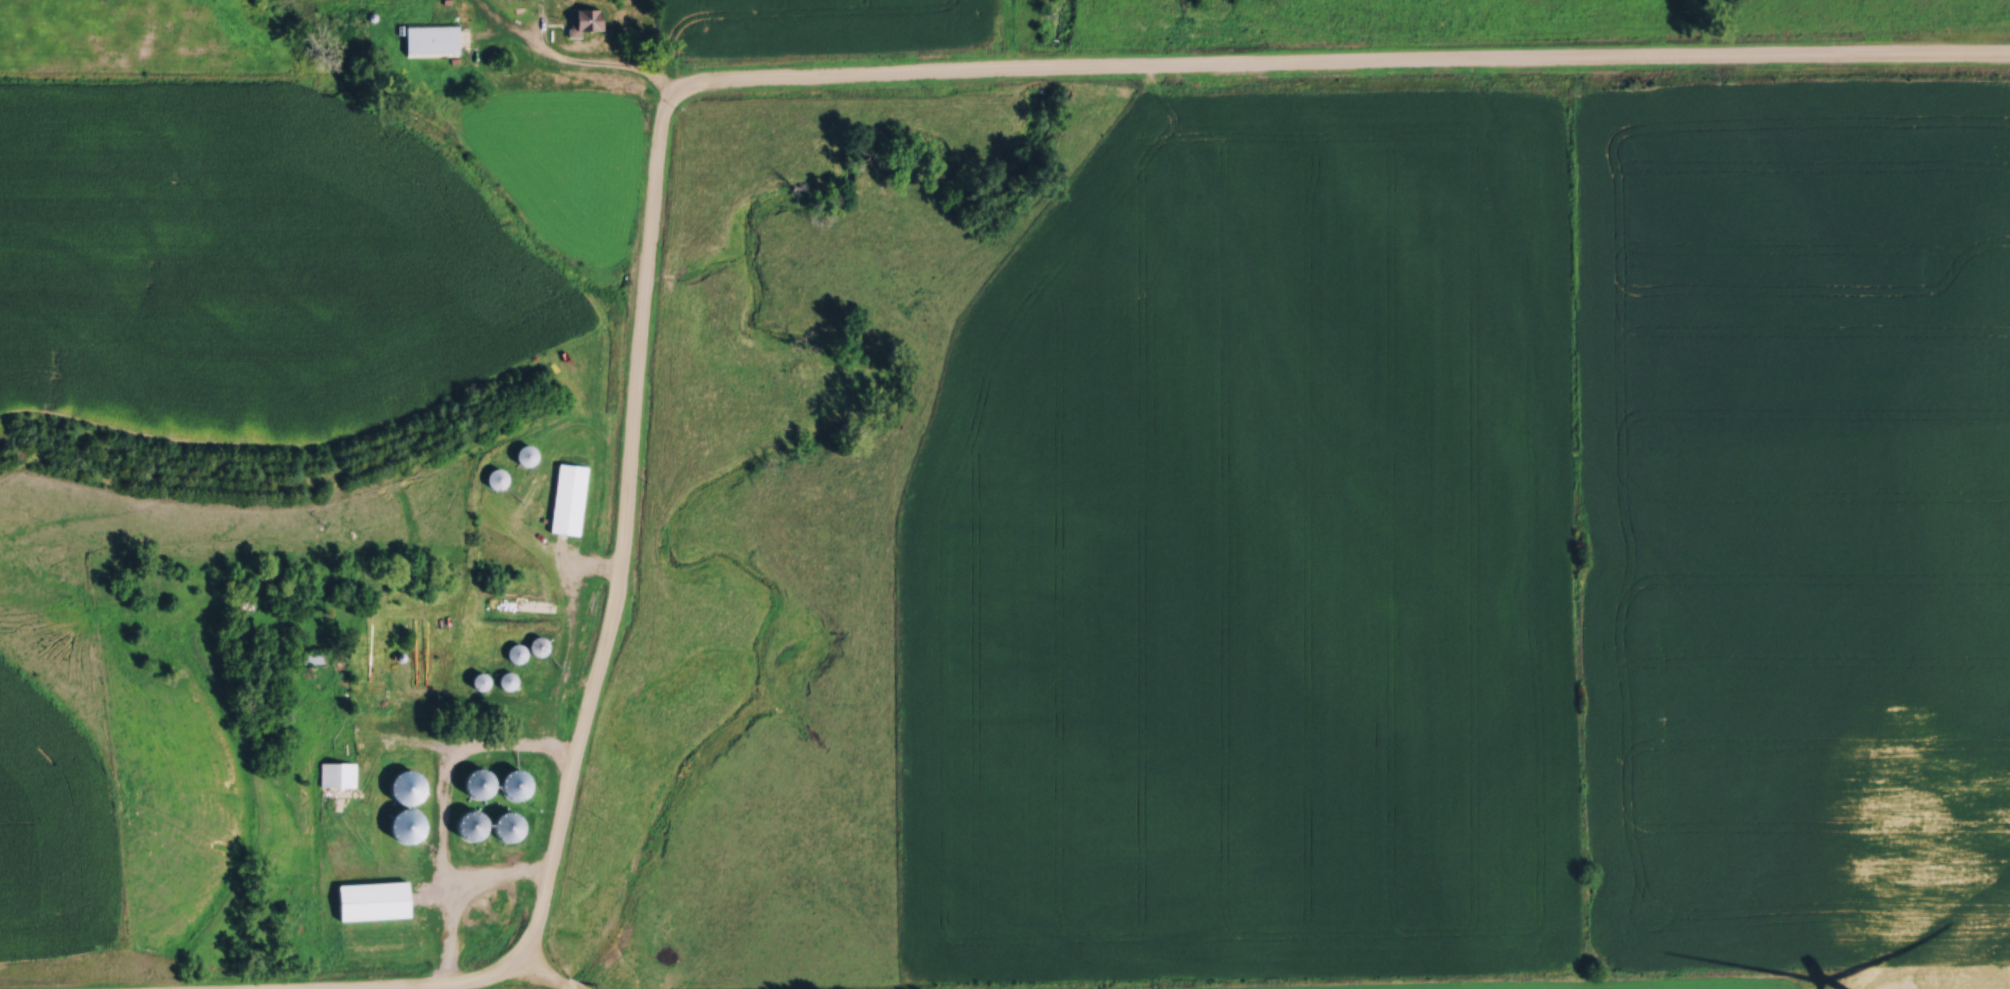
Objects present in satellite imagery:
building: (580, 19)
building: (426, 36)
road: (604, 65)
road: (862, 77)
building: (521, 453)
building: (492, 477)
building: (565, 497)
building: (522, 647)
building: (310, 655)
building: (503, 679)
building: (473, 680)
road: (511, 751)
building: (402, 770)
building: (335, 773)
building: (470, 782)
building: (508, 782)
building: (464, 823)
building: (499, 824)
building: (368, 898)
road: (540, 978)

